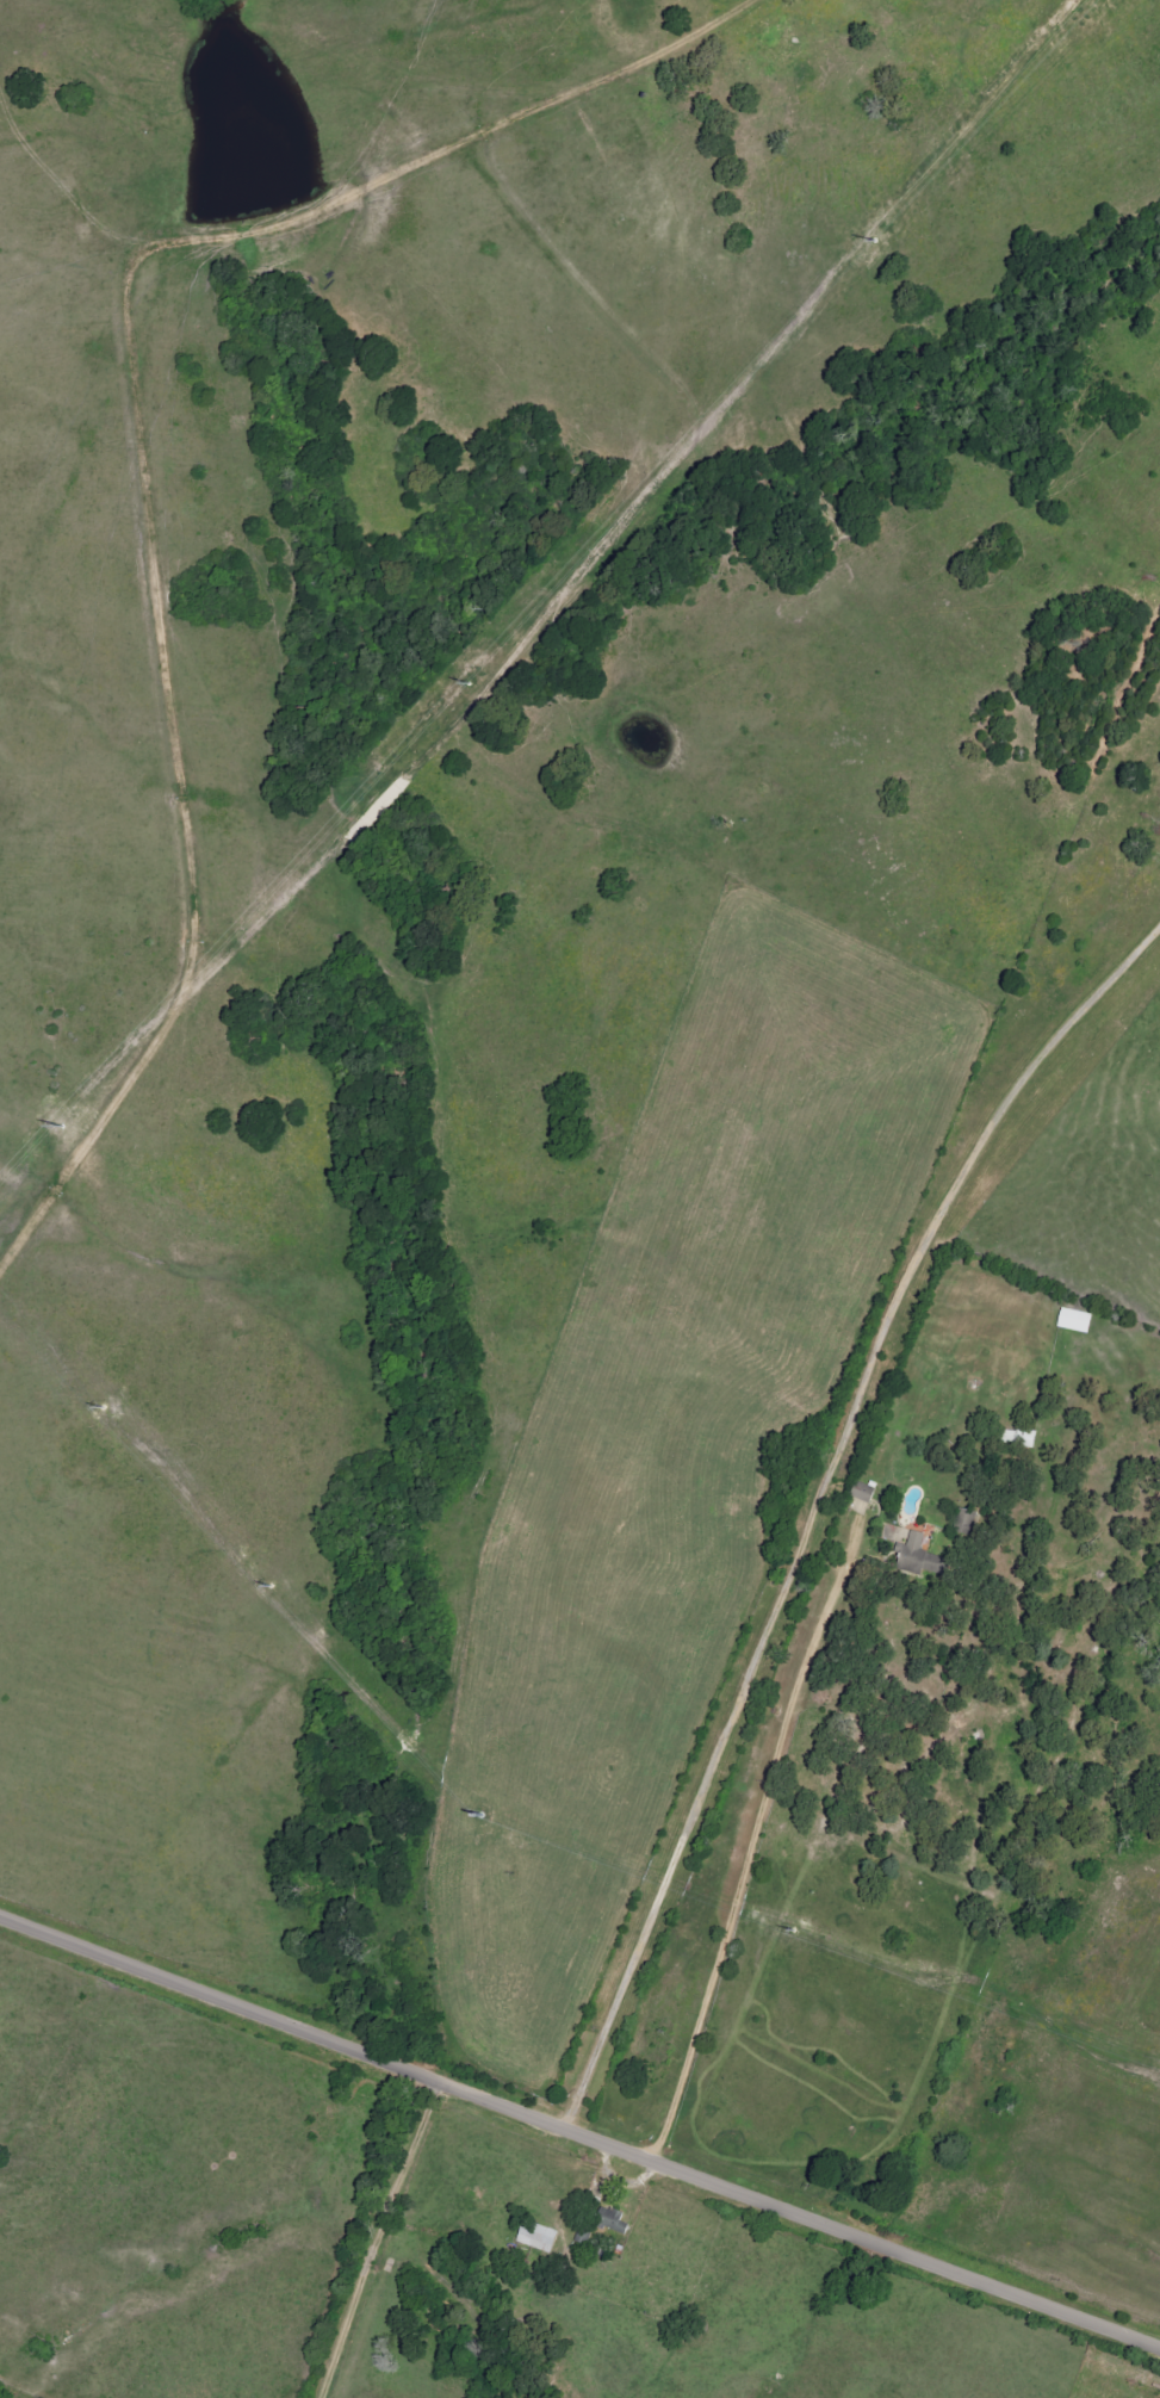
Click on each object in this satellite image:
power tower: (1084, 13)
road: (489, 92)
road: (378, 847)
building: (1075, 1321)
building: (864, 1493)
road: (818, 1504)
building: (966, 1523)
building: (918, 1557)
road: (751, 1845)
road: (579, 2134)
building: (612, 2220)
building: (539, 2238)

